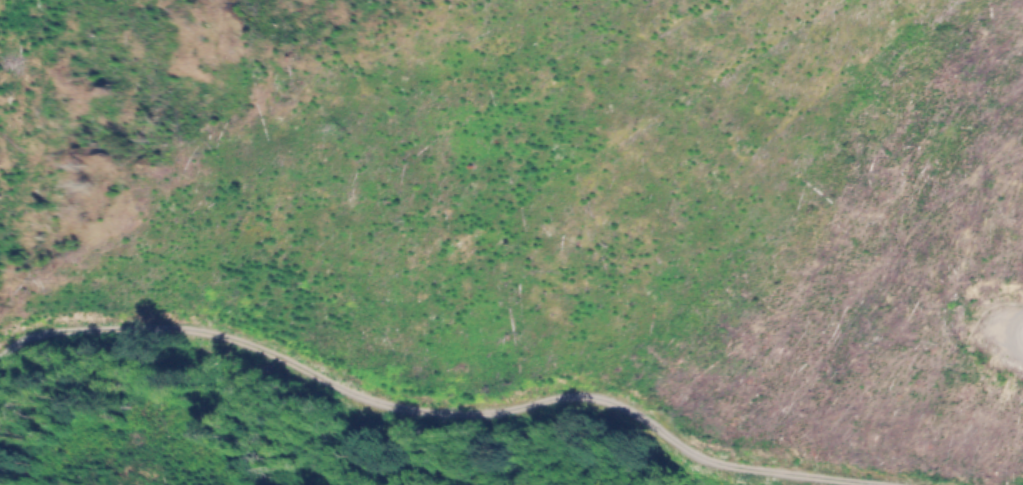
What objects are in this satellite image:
road: (1019, 338)
road: (407, 412)

